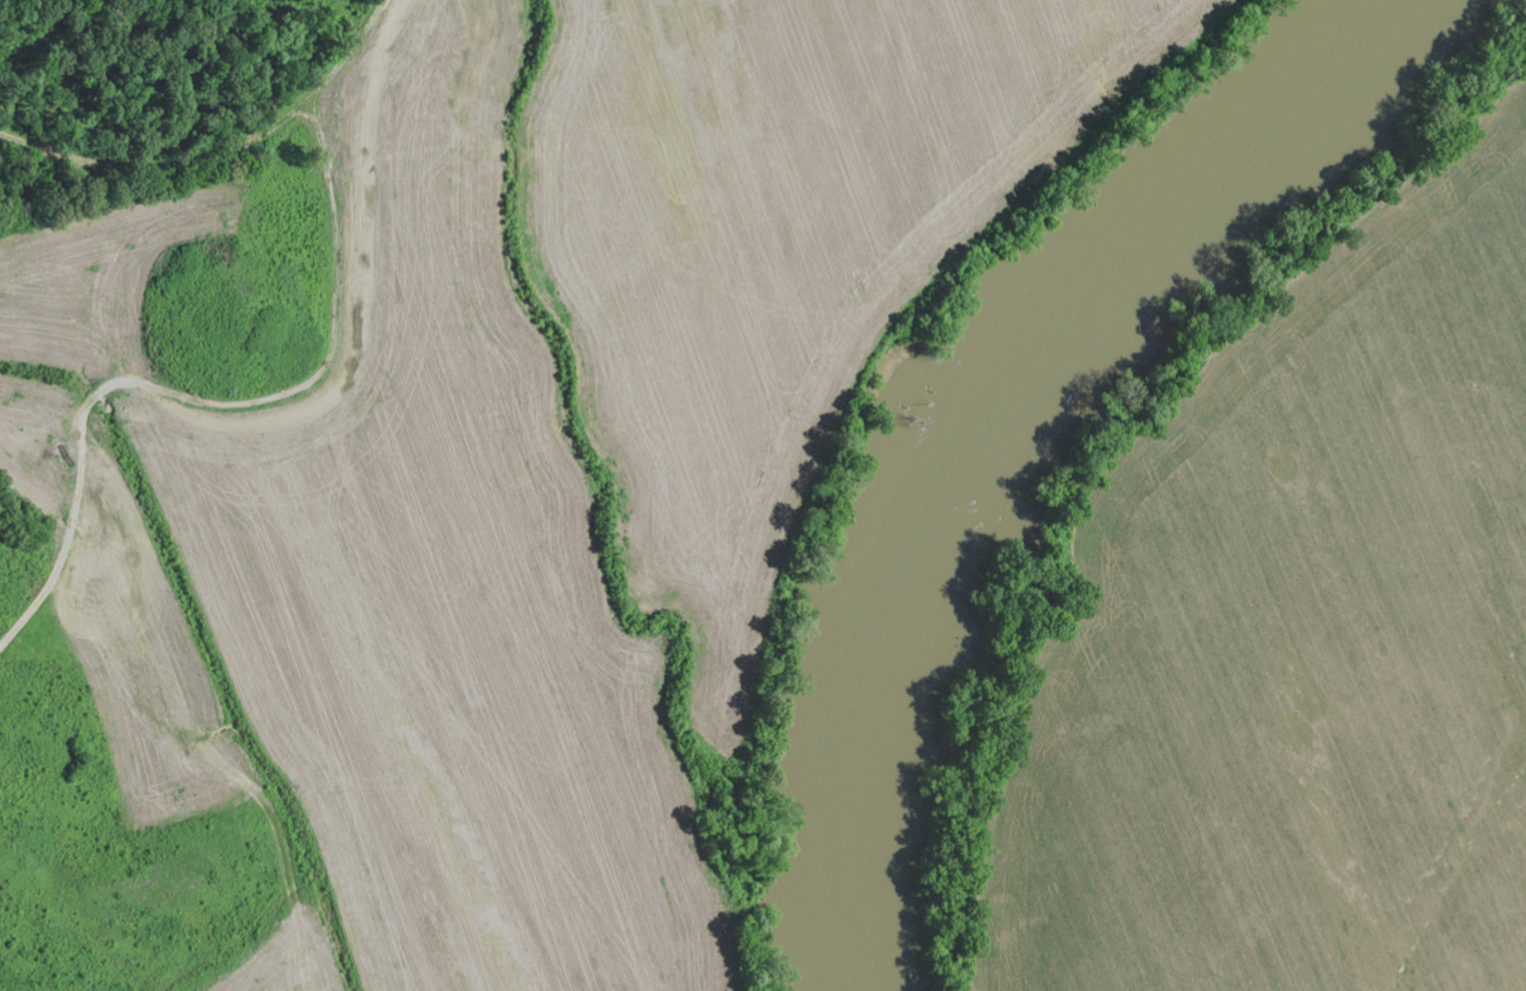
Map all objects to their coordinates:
road: (221, 153)
road: (207, 402)
river: (985, 426)

